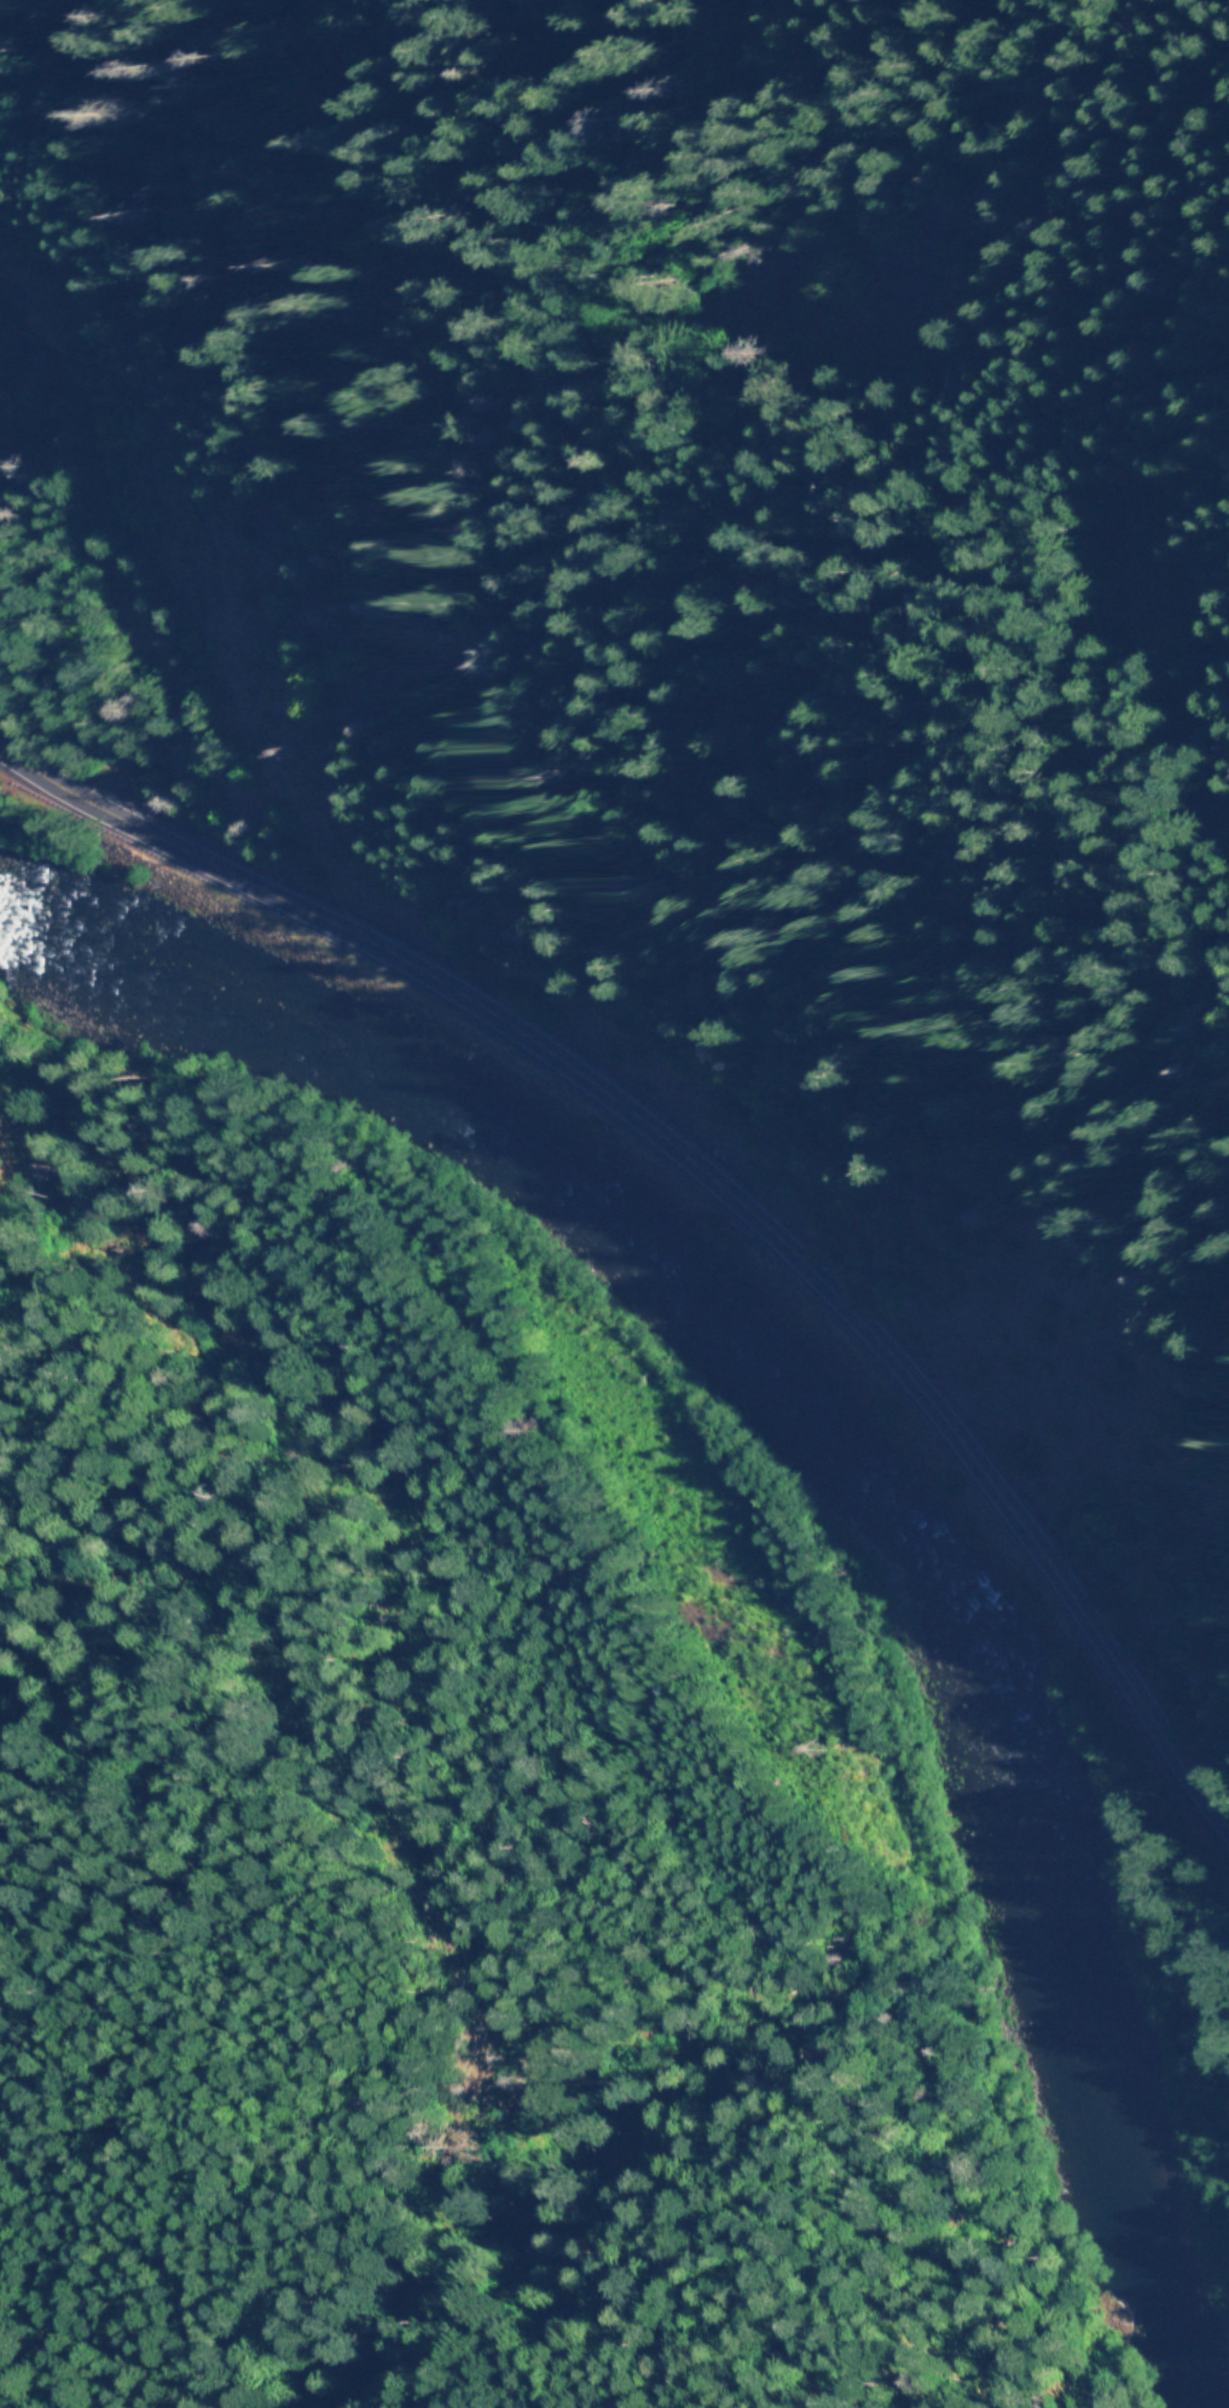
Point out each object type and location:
road: (783, 10)
road: (995, 19)
road: (595, 110)
road: (334, 377)
road: (715, 1171)
river: (848, 1468)
road: (682, 1769)

